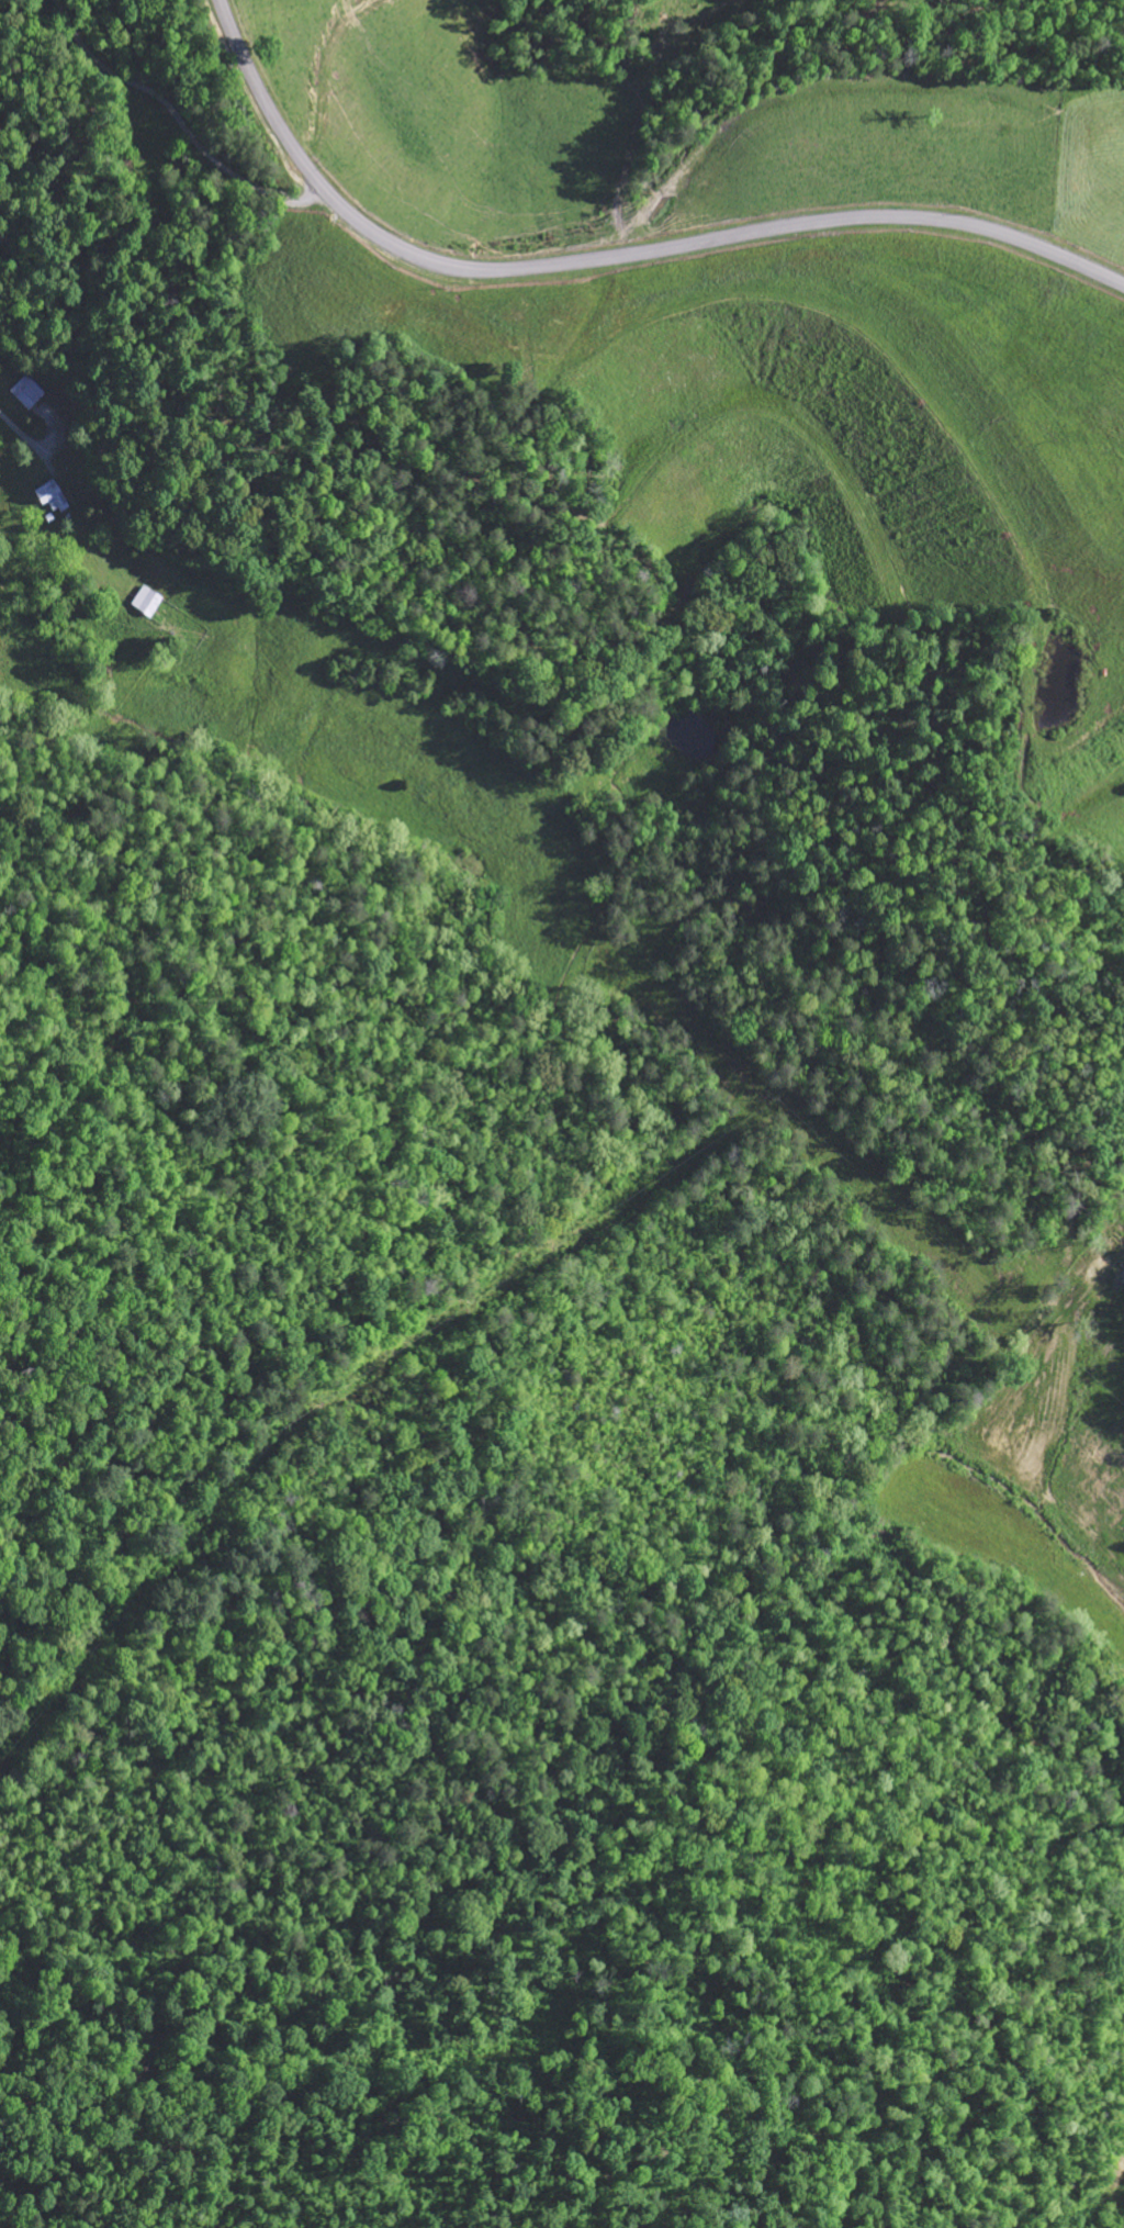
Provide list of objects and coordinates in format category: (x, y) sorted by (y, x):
road: (606, 256)
building: (29, 391)
building: (53, 495)
building: (147, 600)
road: (121, 816)

